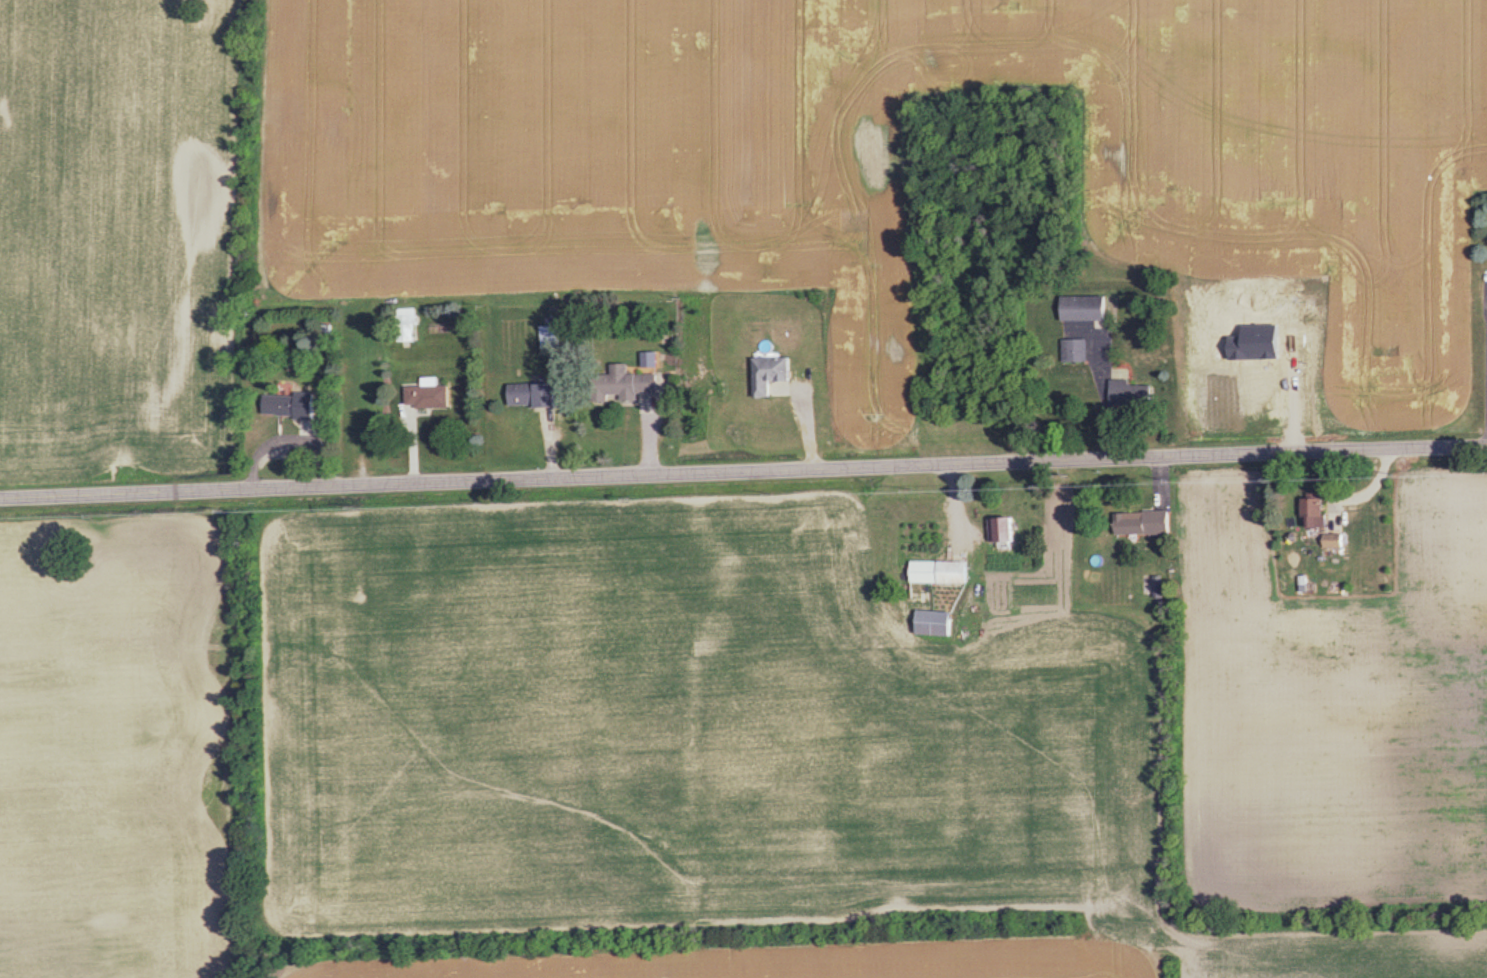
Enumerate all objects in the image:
building: (1087, 307)
building: (410, 324)
building: (553, 336)
building: (1076, 350)
building: (775, 374)
building: (630, 382)
building: (1132, 391)
road: (1097, 393)
building: (432, 395)
building: (538, 395)
building: (296, 406)
road: (743, 471)
building: (1319, 512)
building: (1146, 522)
building: (1007, 531)
building: (1335, 540)
building: (944, 572)
building: (1152, 585)
building: (937, 623)

